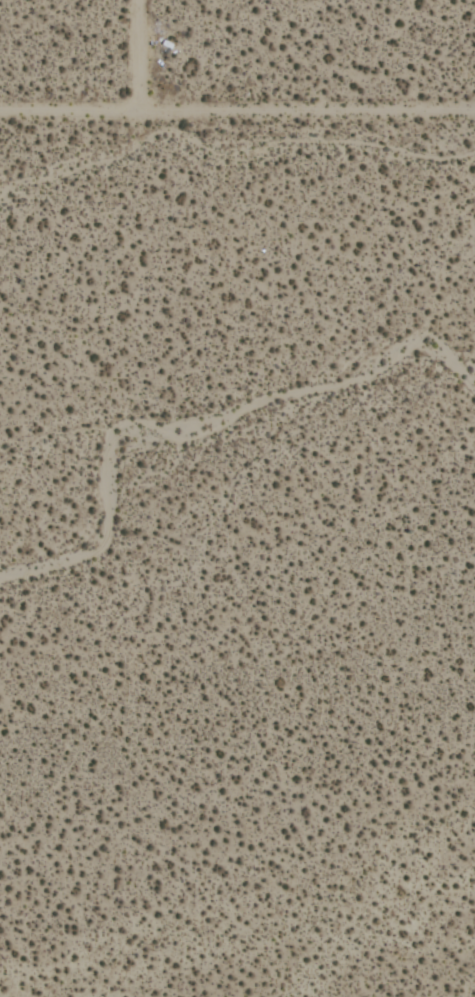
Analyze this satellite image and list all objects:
road: (142, 55)
road: (237, 111)
crop: (237, 498)

